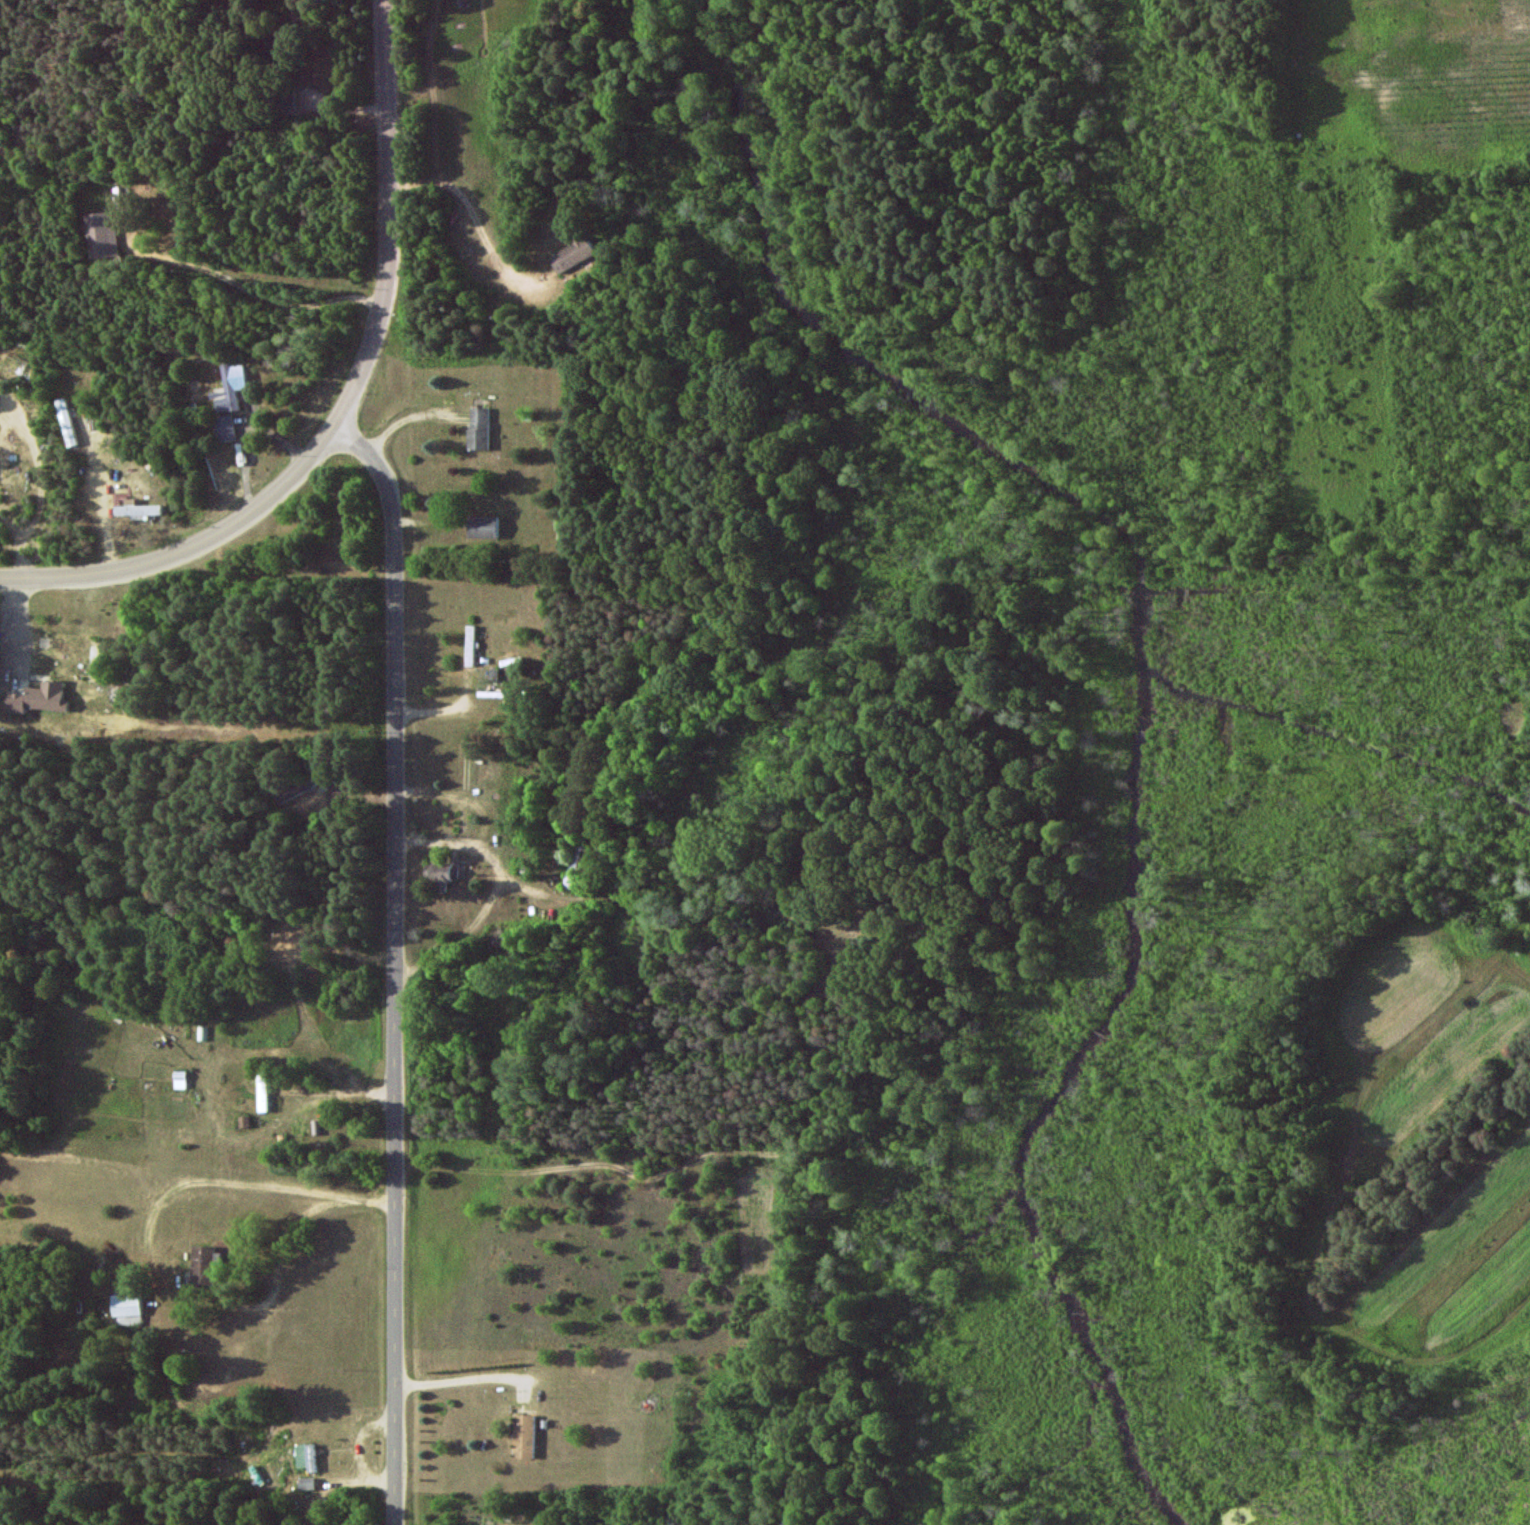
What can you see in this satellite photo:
building: (284, 99)
road: (390, 220)
building: (102, 235)
building: (573, 255)
road: (239, 287)
building: (230, 388)
building: (67, 422)
building: (224, 428)
building: (479, 428)
building: (137, 510)
building: (482, 527)
road: (187, 549)
building: (37, 698)
building: (298, 788)
building: (441, 876)
road: (393, 964)
building: (262, 1093)
building: (202, 1265)
building: (127, 1310)
road: (458, 1382)
building: (523, 1436)
building: (306, 1456)
building: (306, 1484)

